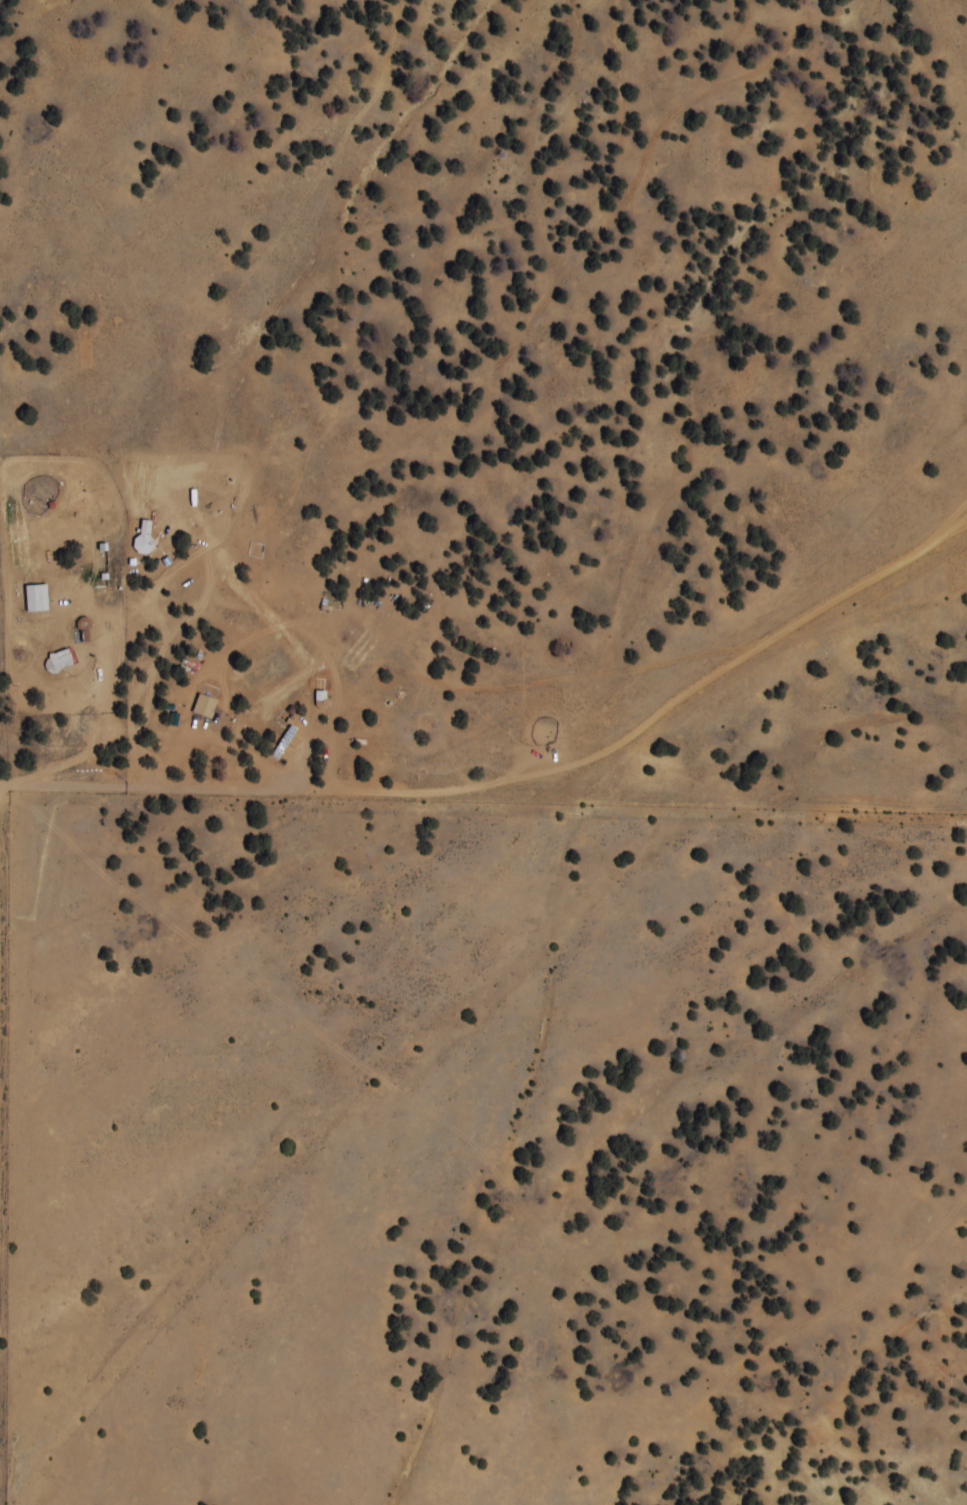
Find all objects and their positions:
building: (35, 597)
building: (57, 661)
building: (202, 706)
building: (281, 741)
road: (518, 776)

